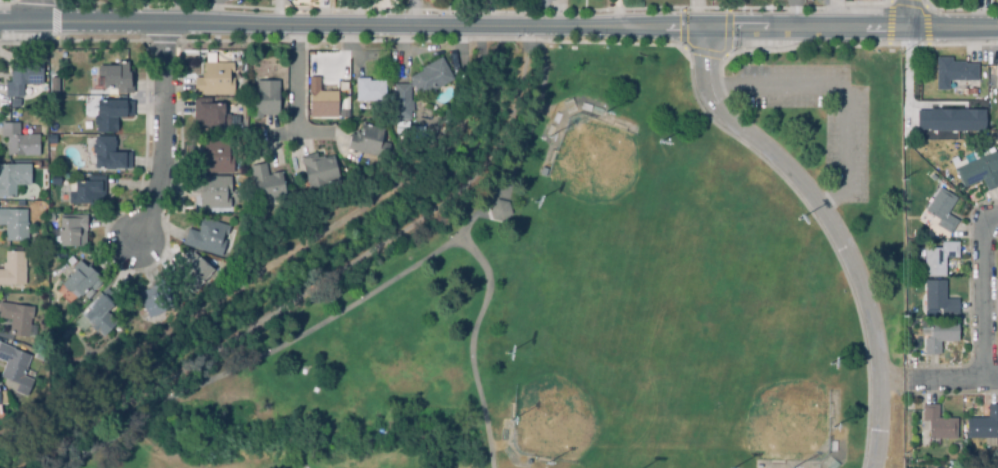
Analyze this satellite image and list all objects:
road: (3, 0)
road: (905, 3)
road: (492, 5)
road: (961, 8)
road: (55, 9)
road: (34, 10)
road: (472, 12)
road: (617, 13)
road: (906, 14)
road: (498, 26)
road: (161, 39)
road: (72, 40)
road: (429, 40)
road: (860, 45)
road: (707, 52)
power tower: (899, 56)
building: (213, 58)
building: (954, 73)
building: (117, 78)
building: (431, 78)
building: (23, 80)
building: (216, 80)
road: (297, 80)
building: (997, 81)
road: (837, 90)
building: (370, 91)
building: (973, 95)
building: (264, 98)
building: (322, 99)
building: (403, 107)
building: (112, 116)
building: (210, 116)
building: (950, 119)
road: (162, 134)
building: (369, 141)
building: (20, 142)
building: (109, 157)
building: (215, 159)
building: (319, 169)
building: (980, 172)
building: (544, 174)
building: (13, 180)
building: (267, 183)
power tower: (897, 183)
building: (212, 192)
building: (88, 194)
building: (498, 212)
building: (937, 215)
road: (990, 220)
building: (13, 226)
road: (832, 227)
building: (68, 234)
building: (206, 239)
building: (937, 259)
building: (69, 260)
building: (12, 271)
building: (192, 273)
building: (81, 282)
road: (313, 292)
park: (607, 293)
building: (155, 299)
road: (359, 299)
building: (937, 299)
road: (982, 302)
building: (99, 314)
park: (664, 315)
power tower: (896, 315)
building: (16, 320)
building: (937, 337)
road: (471, 345)
building: (15, 371)
road: (954, 382)
building: (936, 425)
building: (983, 426)
power tower: (899, 455)

